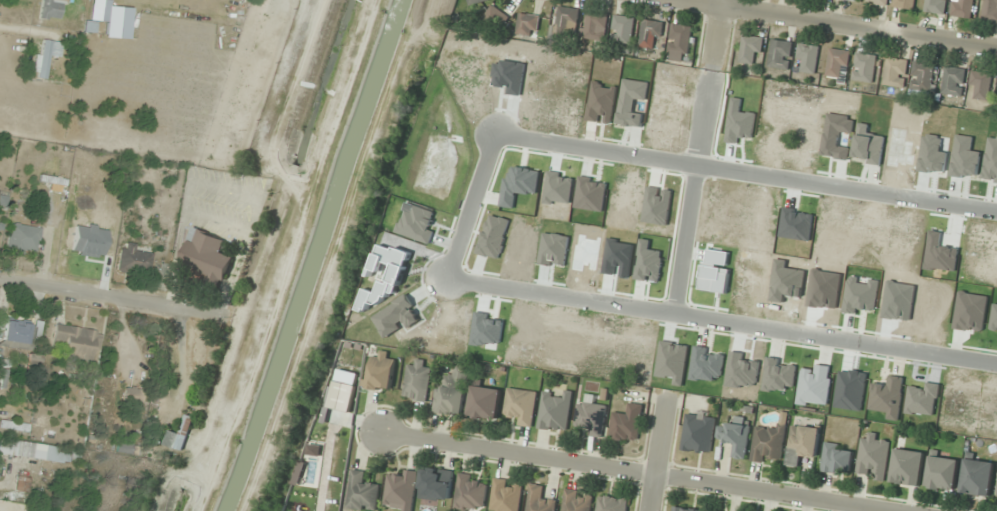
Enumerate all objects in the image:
building: (476, 1)
building: (879, 1)
building: (905, 4)
building: (936, 6)
building: (962, 8)
building: (51, 10)
building: (990, 10)
building: (567, 20)
building: (528, 24)
road: (842, 24)
building: (595, 25)
building: (623, 29)
building: (651, 34)
road: (26, 35)
building: (680, 42)
building: (752, 49)
building: (781, 54)
building: (45, 57)
building: (807, 57)
building: (838, 64)
building: (865, 67)
building: (896, 72)
building: (922, 78)
building: (953, 81)
building: (981, 85)
road: (697, 156)
road: (464, 228)
building: (23, 239)
building: (206, 255)
building: (133, 260)
road: (77, 293)
building: (17, 335)
building: (76, 342)
building: (381, 372)
building: (417, 381)
building: (454, 389)
building: (132, 397)
building: (485, 402)
building: (521, 406)
building: (556, 412)
building: (591, 416)
building: (627, 422)
building: (14, 426)
building: (699, 433)
building: (179, 435)
building: (736, 437)
building: (768, 443)
building: (803, 443)
building: (125, 447)
road: (656, 450)
building: (34, 451)
building: (873, 456)
building: (837, 459)
building: (908, 467)
road: (630, 473)
building: (942, 473)
building: (977, 476)
building: (22, 484)
building: (437, 484)
building: (401, 490)
building: (363, 493)
building: (471, 493)
building: (996, 494)
building: (506, 495)
building: (540, 500)
building: (578, 500)
building: (612, 503)
building: (28, 509)
building: (685, 509)

